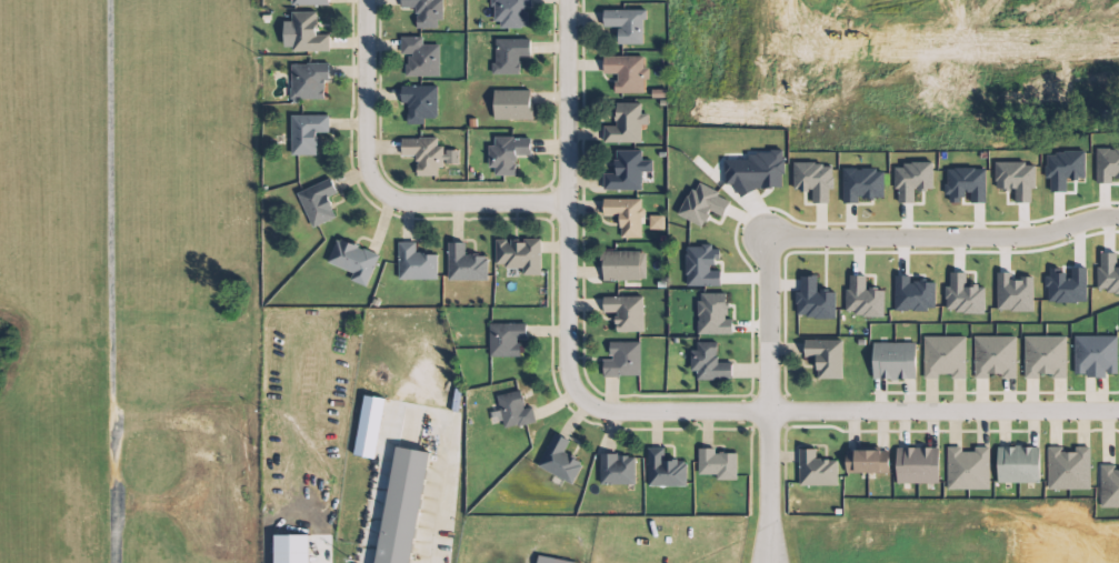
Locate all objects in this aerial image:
building: (312, 2)
building: (428, 12)
building: (513, 13)
building: (629, 26)
building: (306, 33)
building: (512, 56)
building: (423, 58)
building: (629, 73)
building: (311, 80)
building: (422, 103)
building: (514, 105)
building: (629, 124)
building: (310, 133)
building: (431, 154)
building: (510, 154)
building: (1108, 165)
building: (630, 171)
building: (759, 171)
building: (817, 180)
building: (916, 180)
building: (1019, 180)
building: (866, 184)
building: (969, 184)
road: (381, 187)
building: (321, 202)
building: (706, 204)
building: (628, 215)
building: (659, 222)
road: (777, 228)
building: (522, 255)
building: (357, 261)
building: (419, 263)
building: (468, 264)
building: (627, 265)
building: (705, 267)
building: (1110, 272)
building: (1070, 285)
building: (1017, 293)
building: (916, 294)
building: (966, 295)
building: (867, 298)
building: (817, 301)
building: (629, 313)
building: (717, 314)
building: (509, 340)
building: (997, 356)
building: (1048, 356)
building: (1097, 356)
building: (947, 358)
building: (829, 359)
building: (626, 360)
building: (897, 361)
building: (712, 363)
building: (518, 410)
road: (648, 411)
building: (372, 428)
building: (562, 461)
building: (872, 463)
building: (720, 464)
building: (1021, 465)
building: (920, 466)
building: (970, 469)
building: (1071, 469)
building: (620, 470)
building: (668, 470)
building: (819, 470)
building: (1110, 486)
building: (406, 506)
road: (433, 507)
building: (296, 549)
building: (552, 560)

